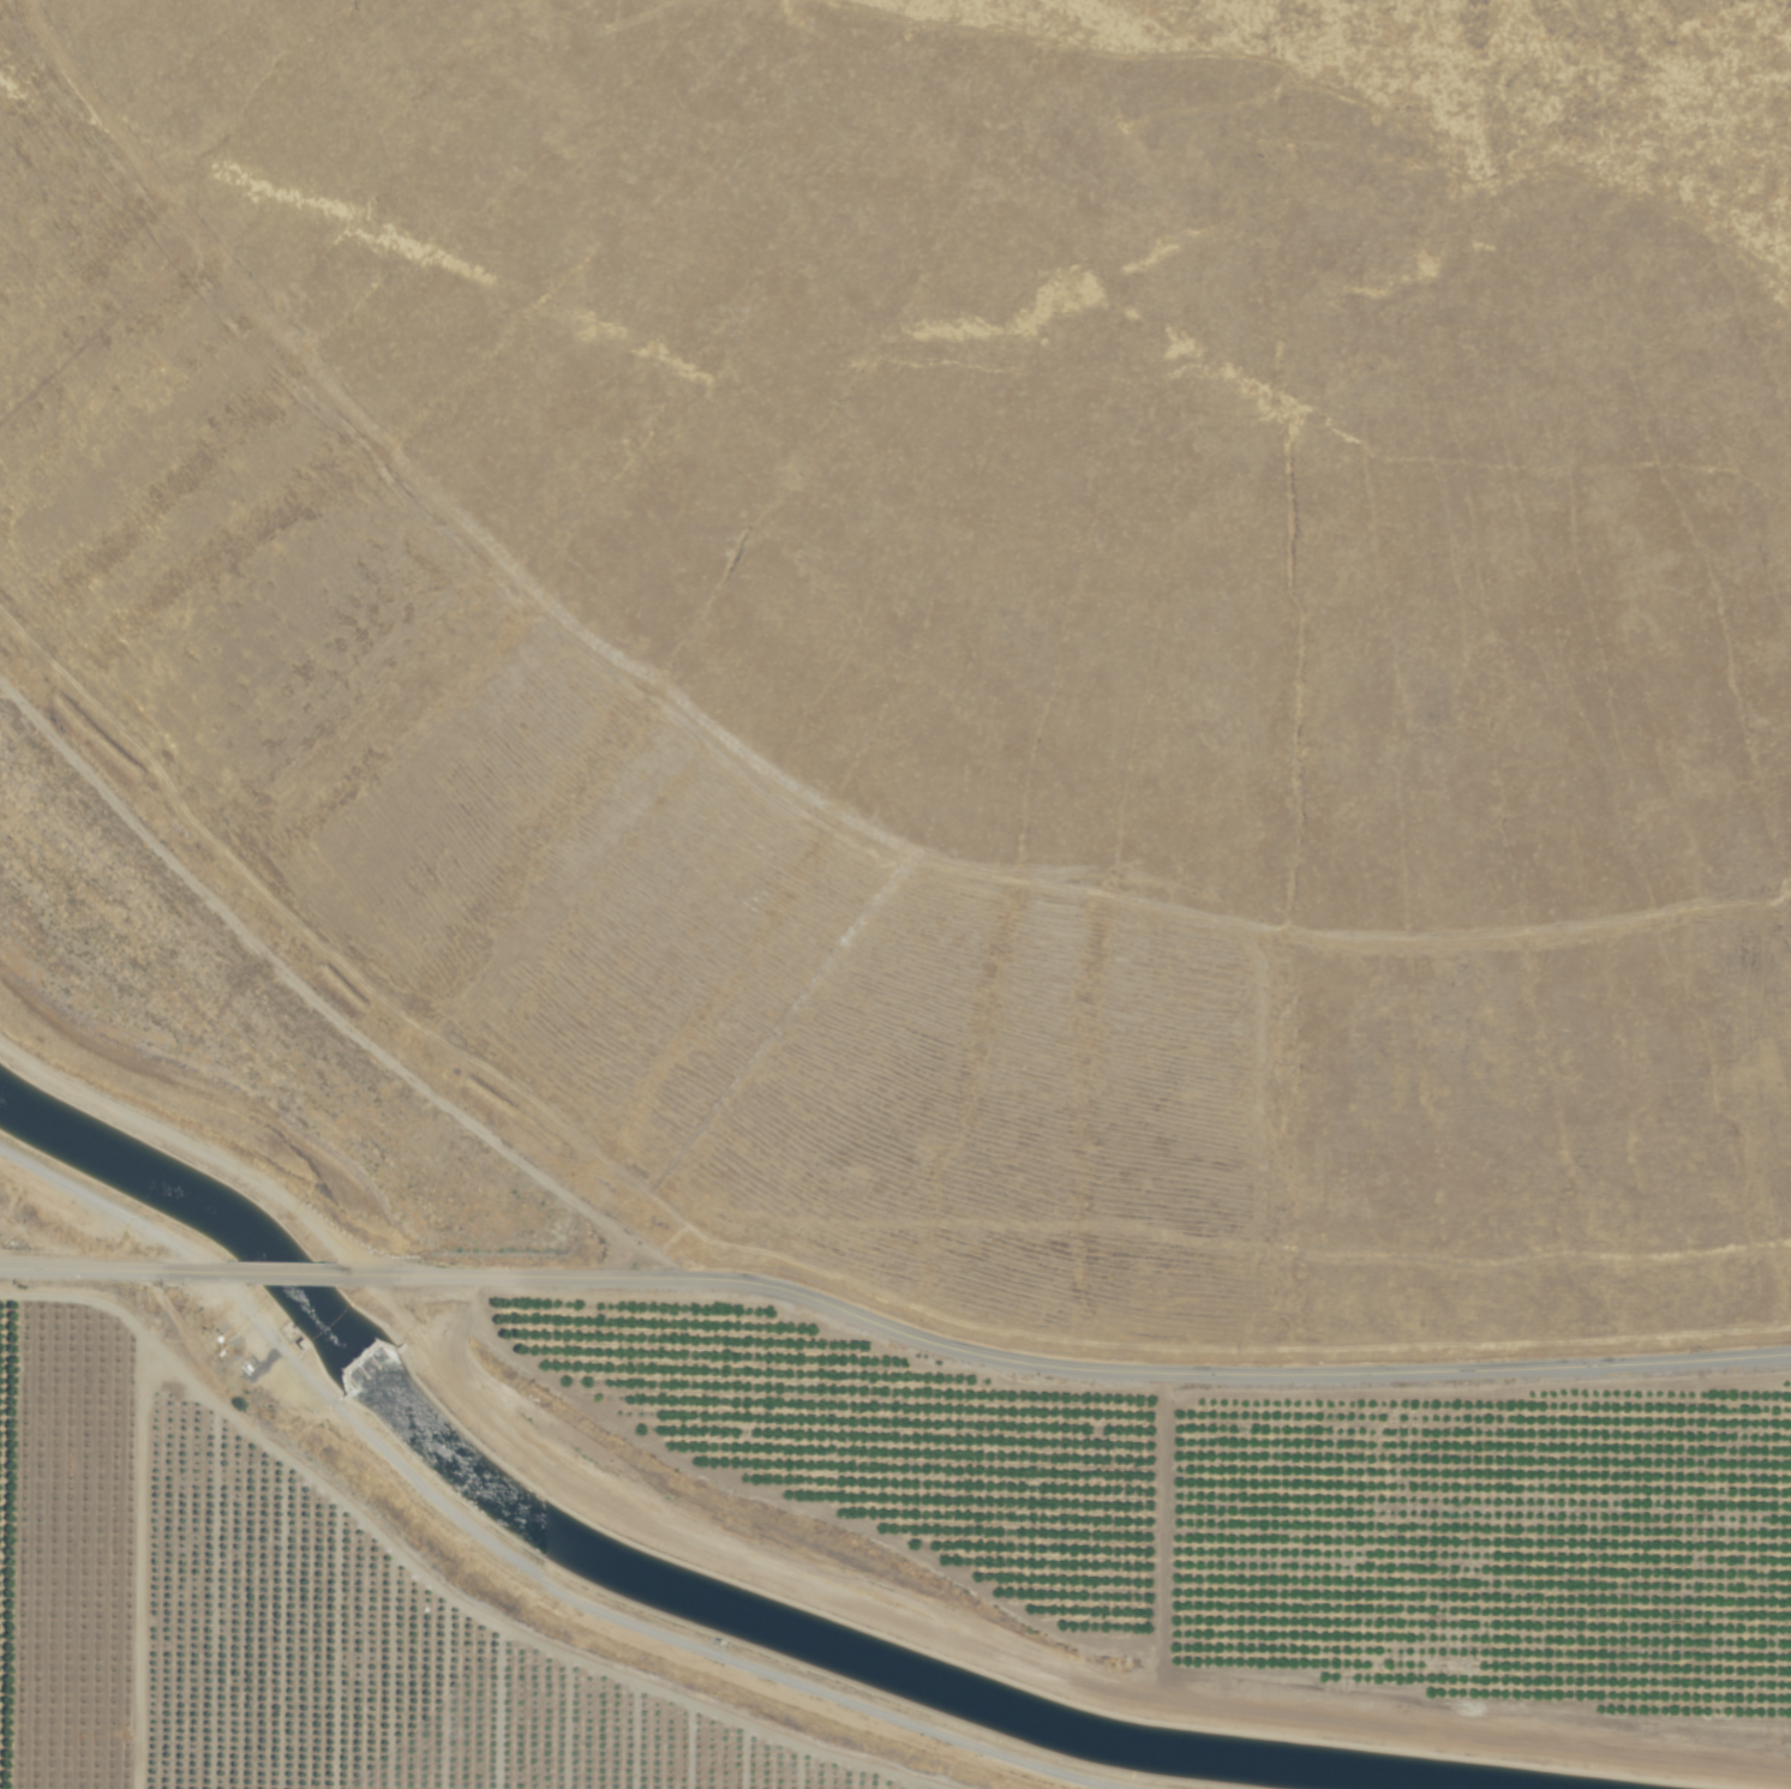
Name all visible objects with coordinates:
road: (102, 1209)
crop: (49, 1248)
road: (115, 1271)
road: (299, 1272)
road: (1072, 1368)
crop: (382, 1617)

